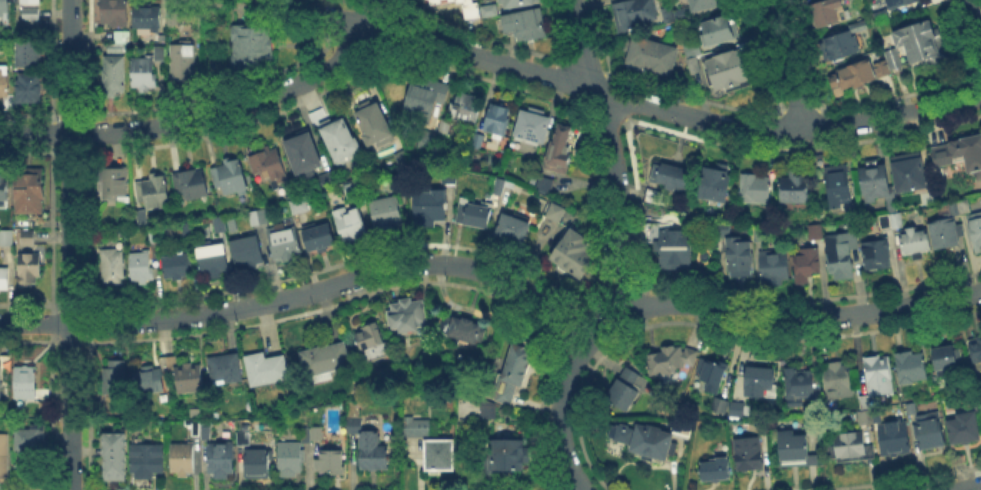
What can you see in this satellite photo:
building: (445, 1)
building: (29, 2)
building: (892, 2)
building: (519, 3)
building: (703, 3)
building: (4, 7)
building: (824, 10)
building: (471, 11)
building: (490, 11)
building: (878, 12)
building: (30, 13)
building: (114, 13)
road: (323, 13)
road: (375, 13)
building: (631, 13)
building: (147, 17)
building: (173, 18)
road: (970, 23)
building: (526, 24)
building: (714, 29)
building: (122, 37)
building: (917, 39)
building: (839, 42)
building: (250, 47)
building: (116, 49)
building: (160, 53)
building: (28, 54)
building: (651, 54)
building: (891, 56)
building: (183, 62)
road: (785, 64)
building: (880, 66)
building: (724, 68)
building: (853, 72)
building: (143, 74)
building: (114, 75)
building: (6, 87)
building: (29, 88)
building: (426, 101)
building: (466, 108)
road: (672, 110)
road: (197, 116)
building: (498, 120)
building: (374, 124)
building: (444, 127)
building: (534, 128)
building: (428, 140)
building: (342, 141)
building: (477, 141)
building: (562, 150)
road: (611, 152)
building: (959, 154)
building: (304, 156)
building: (269, 166)
building: (907, 172)
building: (670, 175)
building: (230, 177)
building: (873, 179)
building: (713, 182)
building: (542, 183)
building: (115, 184)
building: (191, 184)
building: (497, 184)
building: (836, 184)
building: (4, 185)
building: (752, 186)
building: (793, 187)
building: (30, 191)
building: (153, 192)
building: (297, 203)
building: (428, 203)
building: (962, 204)
building: (952, 207)
building: (384, 210)
building: (553, 210)
building: (472, 212)
building: (257, 215)
building: (141, 217)
building: (894, 218)
building: (882, 219)
building: (217, 222)
building: (230, 222)
building: (350, 223)
building: (511, 227)
building: (974, 228)
building: (813, 229)
building: (942, 230)
building: (316, 235)
building: (28, 238)
building: (912, 239)
building: (8, 240)
building: (282, 241)
road: (71, 245)
building: (673, 247)
building: (244, 250)
building: (573, 251)
building: (874, 251)
building: (738, 252)
building: (839, 254)
building: (210, 259)
building: (806, 259)
building: (110, 263)
building: (175, 263)
building: (771, 263)
building: (139, 264)
building: (31, 269)
building: (4, 280)
road: (304, 293)
building: (405, 313)
road: (801, 319)
road: (601, 323)
building: (463, 327)
building: (371, 341)
building: (974, 347)
building: (323, 359)
building: (663, 359)
building: (943, 360)
building: (516, 363)
building: (264, 365)
building: (910, 366)
building: (223, 367)
building: (710, 370)
building: (877, 374)
building: (113, 377)
building: (187, 377)
building: (632, 377)
building: (835, 378)
building: (147, 379)
building: (759, 380)
building: (27, 383)
building: (797, 383)
building: (1, 386)
building: (506, 390)
building: (620, 392)
building: (718, 403)
building: (979, 405)
building: (735, 407)
building: (910, 407)
building: (487, 409)
building: (193, 411)
road: (558, 415)
building: (865, 416)
building: (353, 422)
building: (194, 425)
building: (418, 425)
building: (205, 427)
building: (681, 427)
building: (960, 427)
building: (927, 428)
building: (315, 431)
building: (304, 433)
building: (242, 436)
building: (891, 437)
building: (34, 438)
building: (643, 438)
building: (113, 443)
building: (847, 445)
building: (793, 448)
building: (370, 450)
building: (746, 451)
building: (438, 453)
building: (505, 453)
building: (180, 455)
building: (218, 456)
building: (288, 456)
building: (144, 457)
building: (328, 459)
building: (5, 460)
building: (255, 462)
building: (112, 465)
building: (713, 467)
road: (971, 488)

